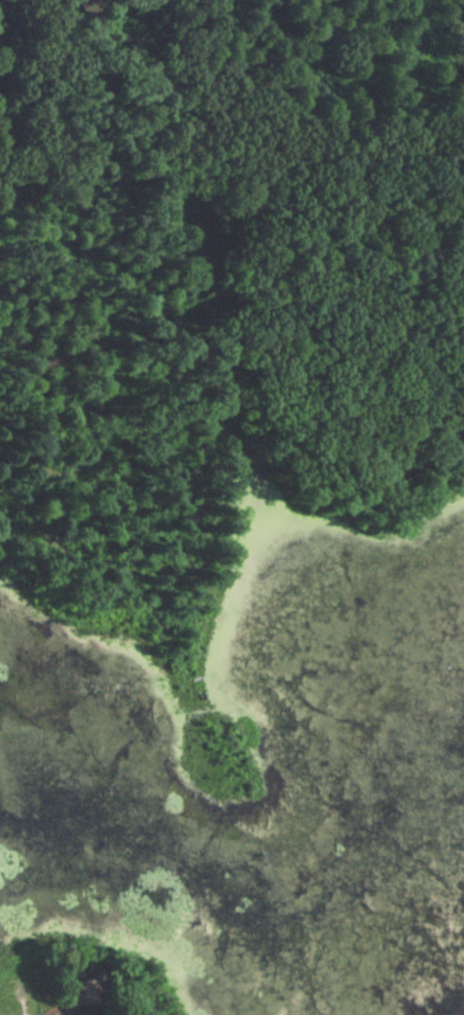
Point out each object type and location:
building: (84, 991)

